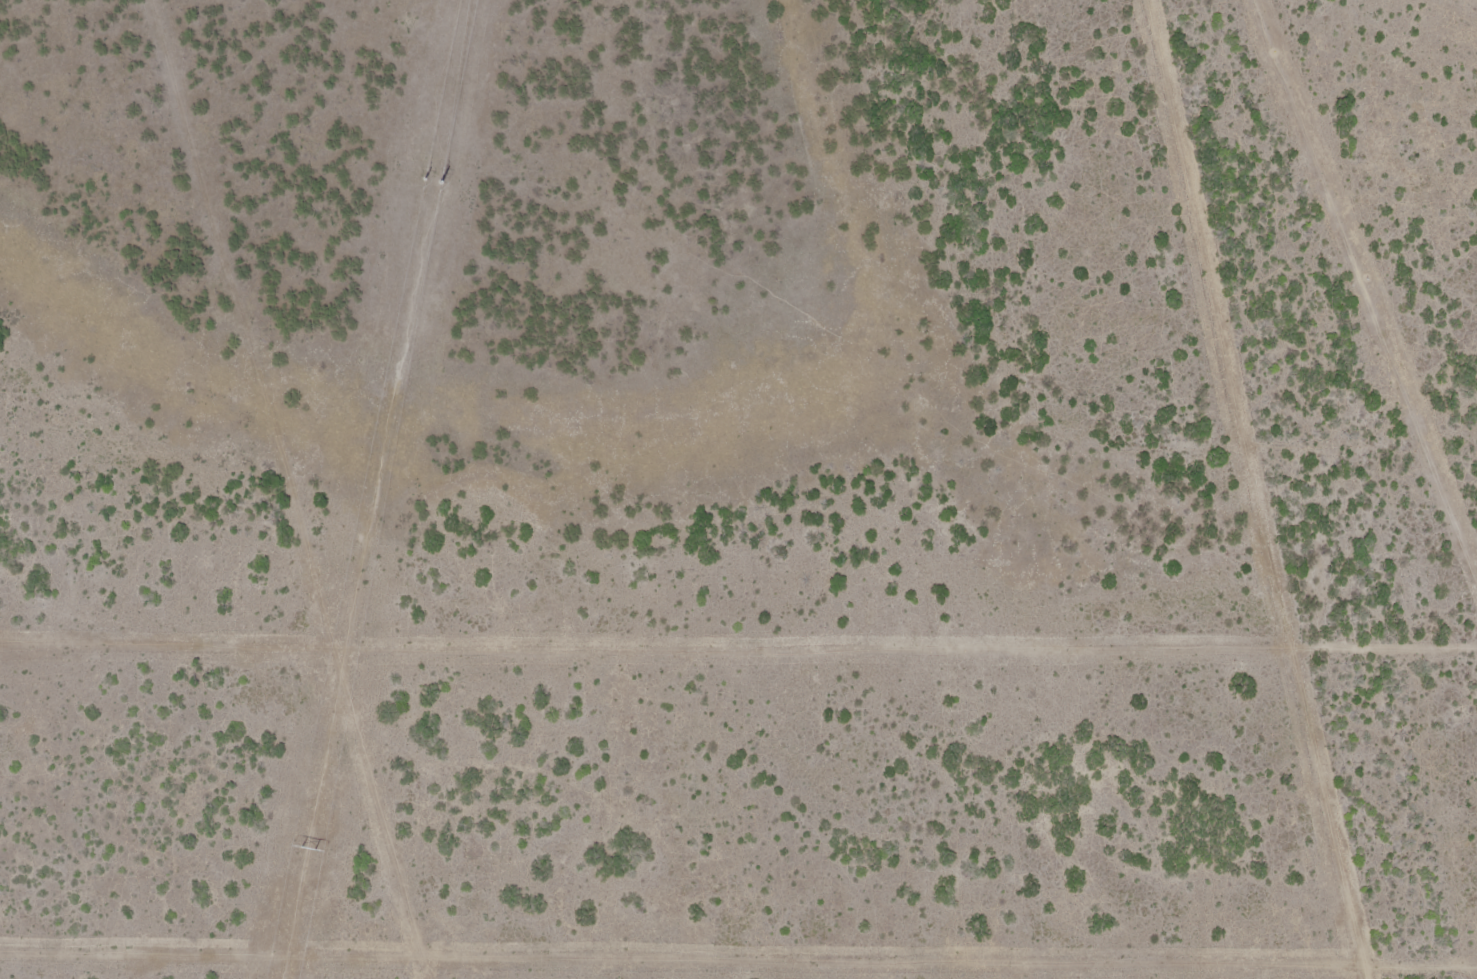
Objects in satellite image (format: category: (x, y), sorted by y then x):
power tower: (436, 171)
power tower: (306, 851)

